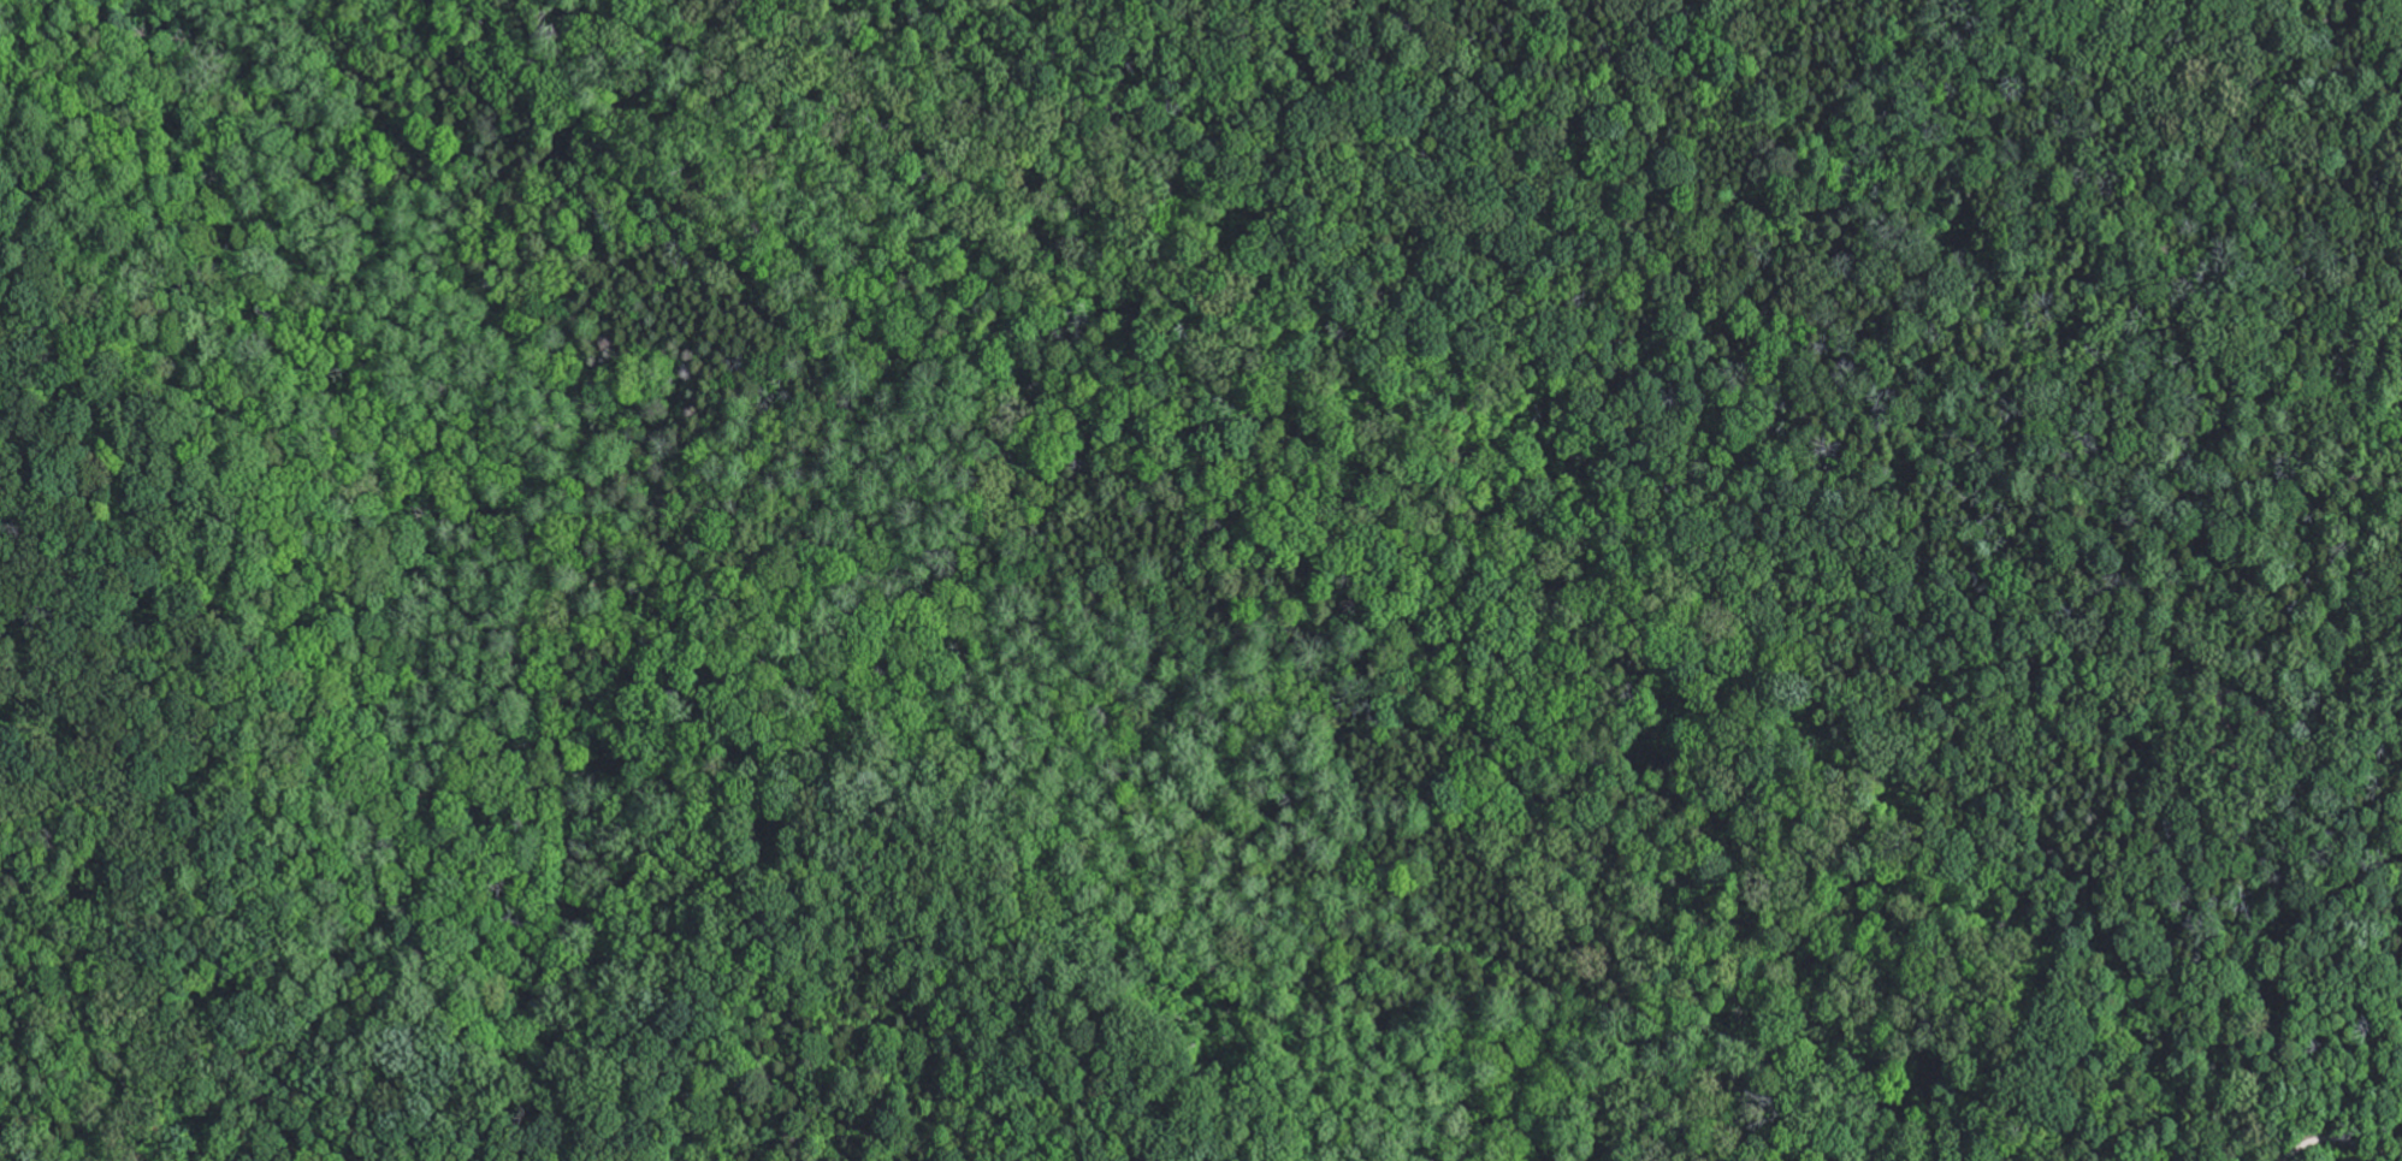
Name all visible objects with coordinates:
road: (2343, 1143)

